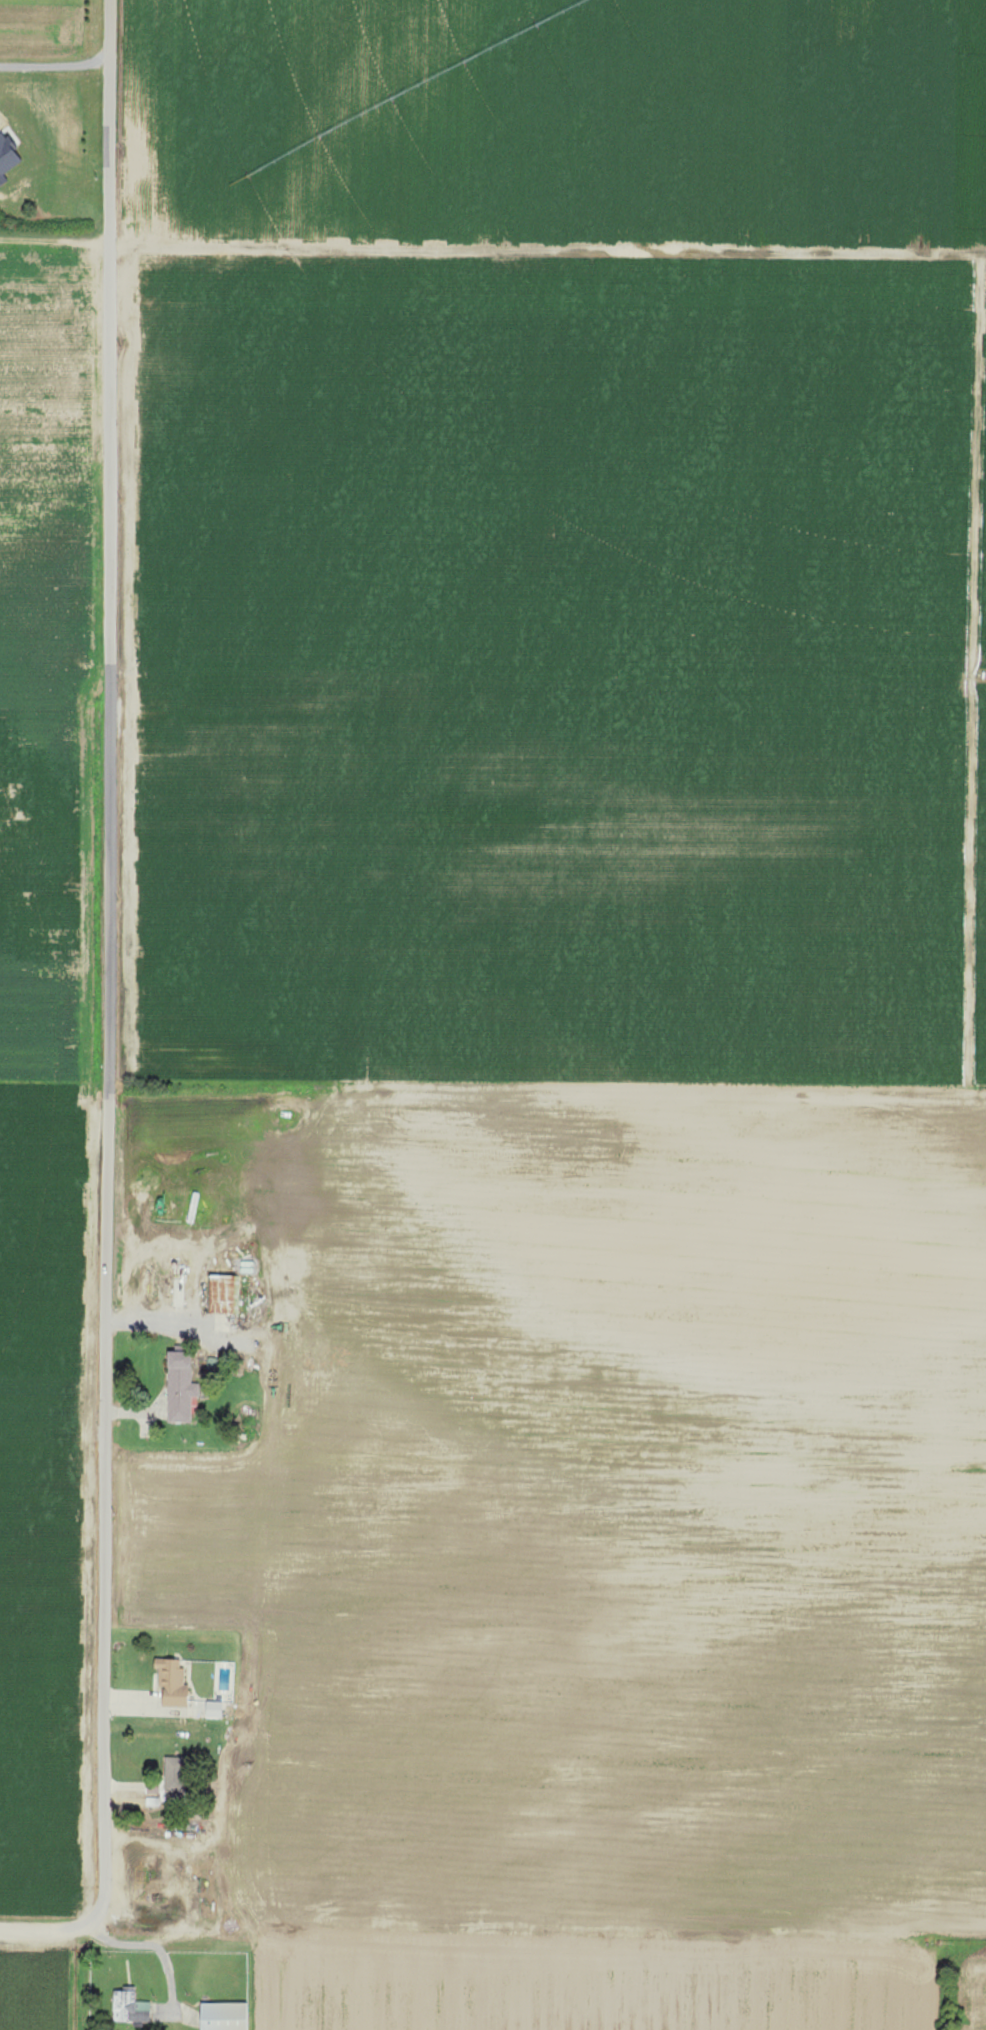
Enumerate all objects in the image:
road: (56, 66)
road: (54, 240)
road: (110, 1011)
building: (222, 1295)
road: (166, 1319)
building: (180, 1388)
building: (171, 1678)
building: (214, 1709)
road: (159, 1949)
building: (129, 2006)
building: (223, 2016)

